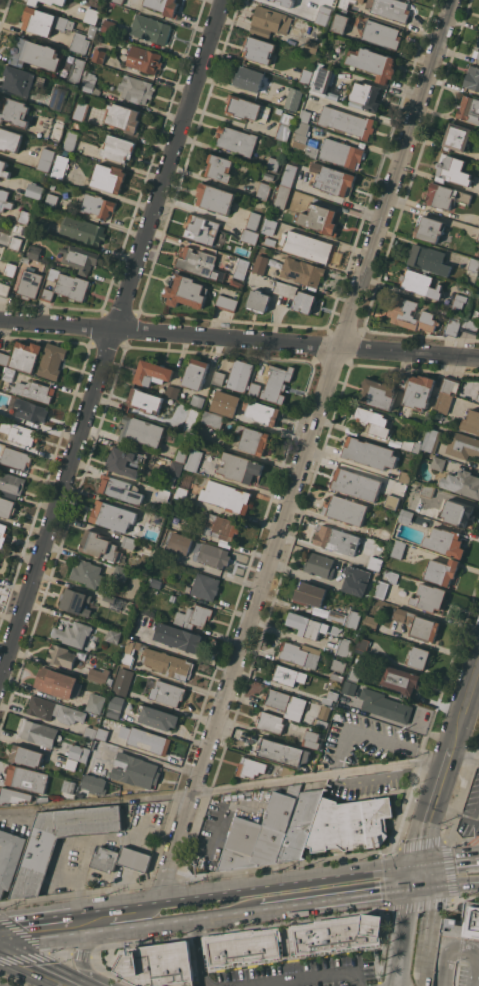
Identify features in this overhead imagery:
building: (57, 1)
building: (119, 1)
building: (34, 2)
building: (285, 2)
building: (343, 3)
building: (164, 6)
building: (392, 9)
building: (323, 15)
building: (92, 16)
building: (44, 21)
building: (269, 22)
building: (340, 23)
building: (107, 25)
building: (151, 29)
building: (92, 31)
building: (382, 34)
building: (80, 43)
building: (312, 46)
building: (259, 49)
building: (476, 50)
building: (97, 52)
building: (35, 54)
building: (144, 59)
building: (374, 63)
building: (76, 70)
building: (306, 76)
building: (249, 78)
building: (472, 78)
building: (19, 80)
building: (321, 80)
building: (89, 82)
building: (136, 89)
building: (367, 95)
building: (58, 98)
building: (293, 98)
building: (247, 108)
building: (469, 109)
building: (80, 110)
road: (355, 110)
building: (14, 111)
building: (304, 115)
building: (124, 118)
building: (347, 121)
building: (284, 124)
building: (478, 124)
building: (56, 130)
building: (456, 137)
building: (9, 139)
building: (71, 140)
building: (236, 140)
building: (304, 140)
building: (118, 148)
building: (342, 153)
building: (46, 159)
building: (273, 163)
building: (60, 167)
building: (219, 167)
building: (4, 169)
building: (452, 169)
building: (253, 171)
building: (289, 174)
building: (269, 176)
building: (109, 178)
building: (332, 179)
building: (34, 190)
building: (263, 190)
building: (281, 195)
building: (446, 196)
building: (215, 198)
building: (5, 200)
building: (51, 200)
building: (97, 205)
building: (24, 216)
building: (319, 218)
building: (253, 220)
building: (21, 225)
building: (43, 225)
building: (268, 226)
building: (201, 229)
building: (429, 229)
building: (83, 230)
building: (4, 236)
building: (249, 236)
building: (478, 238)
building: (222, 239)
building: (270, 241)
building: (15, 243)
building: (306, 245)
building: (33, 252)
building: (80, 258)
building: (25, 259)
building: (428, 259)
building: (198, 262)
building: (474, 264)
building: (10, 268)
building: (242, 268)
building: (289, 269)
building: (478, 277)
building: (30, 284)
building: (420, 284)
building: (66, 286)
building: (4, 289)
building: (286, 289)
building: (186, 292)
building: (259, 300)
building: (305, 302)
building: (459, 302)
building: (227, 303)
building: (411, 314)
building: (453, 325)
building: (470, 325)
road: (239, 339)
road: (112, 342)
building: (26, 356)
building: (4, 358)
building: (52, 360)
building: (153, 372)
building: (8, 373)
building: (196, 373)
building: (240, 375)
building: (219, 377)
building: (403, 380)
building: (278, 383)
building: (450, 384)
building: (256, 389)
building: (35, 390)
building: (173, 391)
building: (419, 391)
building: (379, 393)
building: (478, 398)
building: (198, 399)
building: (145, 400)
building: (225, 402)
building: (442, 407)
building: (33, 411)
building: (261, 412)
building: (403, 412)
building: (234, 413)
building: (192, 419)
building: (212, 419)
building: (373, 421)
building: (471, 421)
building: (140, 430)
building: (20, 432)
building: (170, 437)
building: (255, 439)
building: (430, 439)
building: (395, 443)
building: (198, 444)
building: (411, 445)
building: (462, 445)
road: (308, 449)
building: (369, 453)
building: (181, 454)
building: (16, 458)
building: (193, 460)
building: (123, 461)
building: (438, 463)
building: (240, 467)
building: (176, 468)
building: (405, 476)
building: (462, 482)
building: (355, 483)
building: (11, 484)
building: (120, 488)
building: (183, 490)
building: (427, 490)
building: (163, 495)
building: (226, 496)
building: (180, 503)
building: (6, 507)
building: (344, 509)
building: (458, 512)
building: (112, 515)
building: (405, 516)
building: (175, 522)
building: (222, 527)
building: (3, 534)
building: (337, 540)
building: (129, 542)
building: (445, 542)
building: (180, 543)
building: (101, 546)
building: (148, 546)
building: (398, 549)
building: (213, 555)
building: (375, 563)
building: (320, 565)
building: (442, 571)
building: (87, 573)
building: (120, 573)
building: (392, 575)
building: (356, 580)
building: (154, 582)
building: (205, 586)
building: (381, 589)
building: (309, 593)
building: (429, 597)
building: (76, 601)
building: (111, 602)
building: (382, 610)
building: (193, 616)
building: (353, 619)
building: (370, 622)
building: (418, 624)
building: (311, 625)
building: (73, 633)
building: (113, 635)
building: (135, 636)
building: (178, 637)
building: (362, 643)
building: (345, 648)
building: (131, 652)
building: (300, 654)
building: (61, 655)
building: (419, 657)
building: (168, 663)
building: (339, 665)
building: (355, 667)
building: (98, 675)
building: (289, 675)
building: (337, 677)
building: (400, 679)
building: (123, 681)
building: (56, 682)
road: (476, 687)
building: (349, 688)
building: (167, 695)
building: (326, 698)
building: (95, 703)
building: (286, 703)
building: (385, 705)
building: (115, 706)
building: (54, 710)
building: (324, 712)
road: (464, 714)
building: (158, 717)
building: (270, 722)
building: (321, 722)
building: (91, 731)
building: (40, 733)
building: (101, 733)
building: (312, 738)
building: (148, 740)
building: (77, 750)
road: (466, 750)
building: (279, 751)
building: (26, 755)
road: (154, 761)
building: (71, 764)
building: (321, 766)
building: (250, 767)
building: (135, 770)
building: (287, 770)
building: (27, 778)
building: (94, 783)
building: (68, 786)
building: (304, 786)
road: (224, 788)
building: (13, 796)
building: (42, 799)
road: (432, 811)
building: (350, 824)
building: (301, 825)
building: (266, 828)
road: (209, 844)
building: (9, 858)
building: (135, 858)
building: (105, 859)
road: (451, 860)
traffic signals: (423, 864)
building: (35, 866)
road: (343, 875)
road: (423, 876)
road: (450, 886)
traffic signals: (423, 889)
road: (214, 893)
road: (341, 899)
road: (134, 904)
road: (87, 911)
road: (129, 913)
road: (210, 916)
road: (435, 917)
road: (34, 919)
road: (130, 927)
road: (403, 931)
building: (336, 933)
road: (50, 938)
building: (242, 945)
road: (448, 948)
building: (460, 950)
road: (197, 953)
road: (81, 956)
building: (157, 965)
road: (38, 967)
road: (429, 968)
road: (477, 971)
road: (310, 977)
road: (390, 983)
road: (396, 983)
road: (398, 983)

